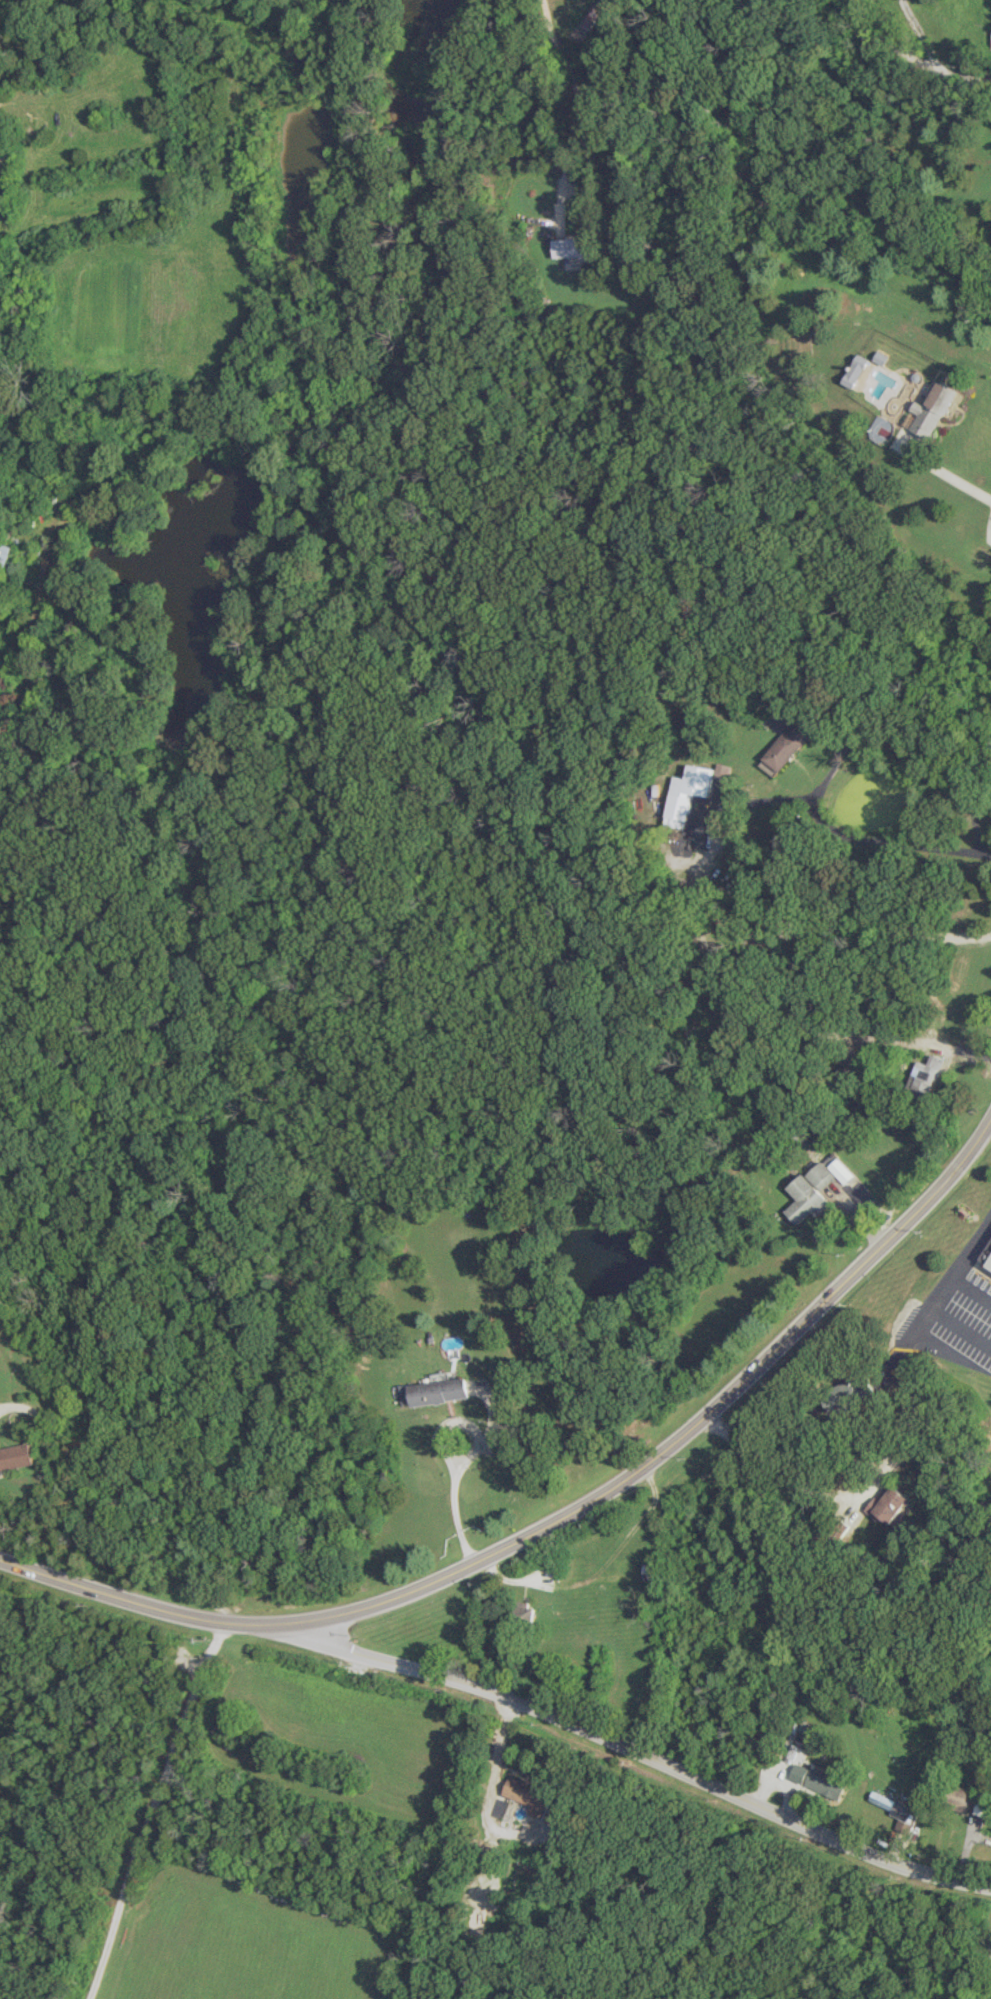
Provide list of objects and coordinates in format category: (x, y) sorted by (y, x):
road: (919, 31)
building: (990, 49)
road: (917, 53)
road: (573, 81)
building: (573, 247)
building: (857, 370)
building: (932, 410)
road: (942, 472)
building: (3, 554)
building: (789, 744)
road: (908, 750)
building: (721, 771)
building: (687, 793)
road: (702, 900)
road: (840, 920)
building: (926, 1075)
building: (830, 1171)
building: (806, 1199)
building: (990, 1248)
road: (962, 1265)
building: (990, 1266)
road: (972, 1288)
road: (961, 1326)
building: (434, 1392)
building: (843, 1393)
road: (441, 1453)
building: (16, 1456)
road: (866, 1473)
building: (891, 1504)
road: (561, 1516)
road: (100, 1517)
building: (524, 1611)
road: (641, 1764)
building: (818, 1781)
road: (488, 1792)
building: (527, 1794)
building: (957, 1799)
road: (151, 1808)
building: (895, 1809)

